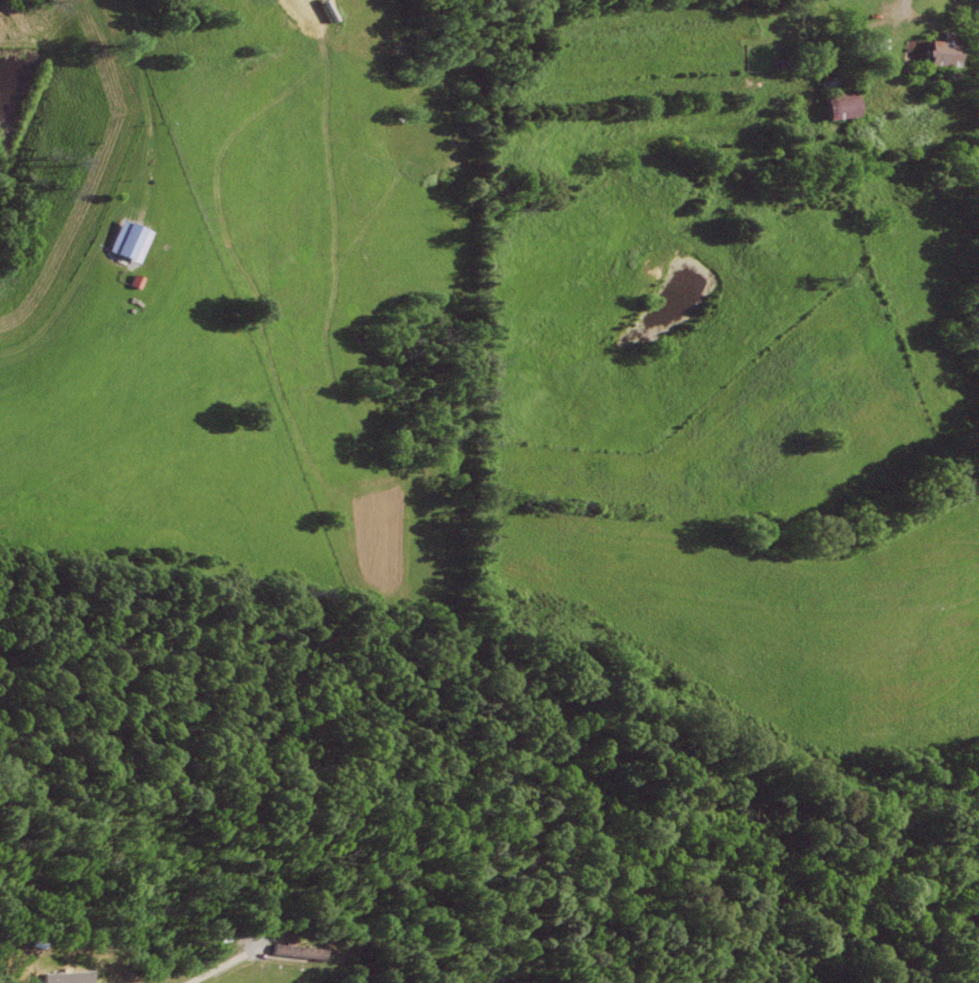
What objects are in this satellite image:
road: (895, 11)
building: (865, 39)
building: (934, 53)
building: (795, 62)
building: (907, 69)
building: (833, 104)
road: (149, 107)
building: (135, 242)
building: (139, 281)
building: (292, 950)
road: (212, 967)

